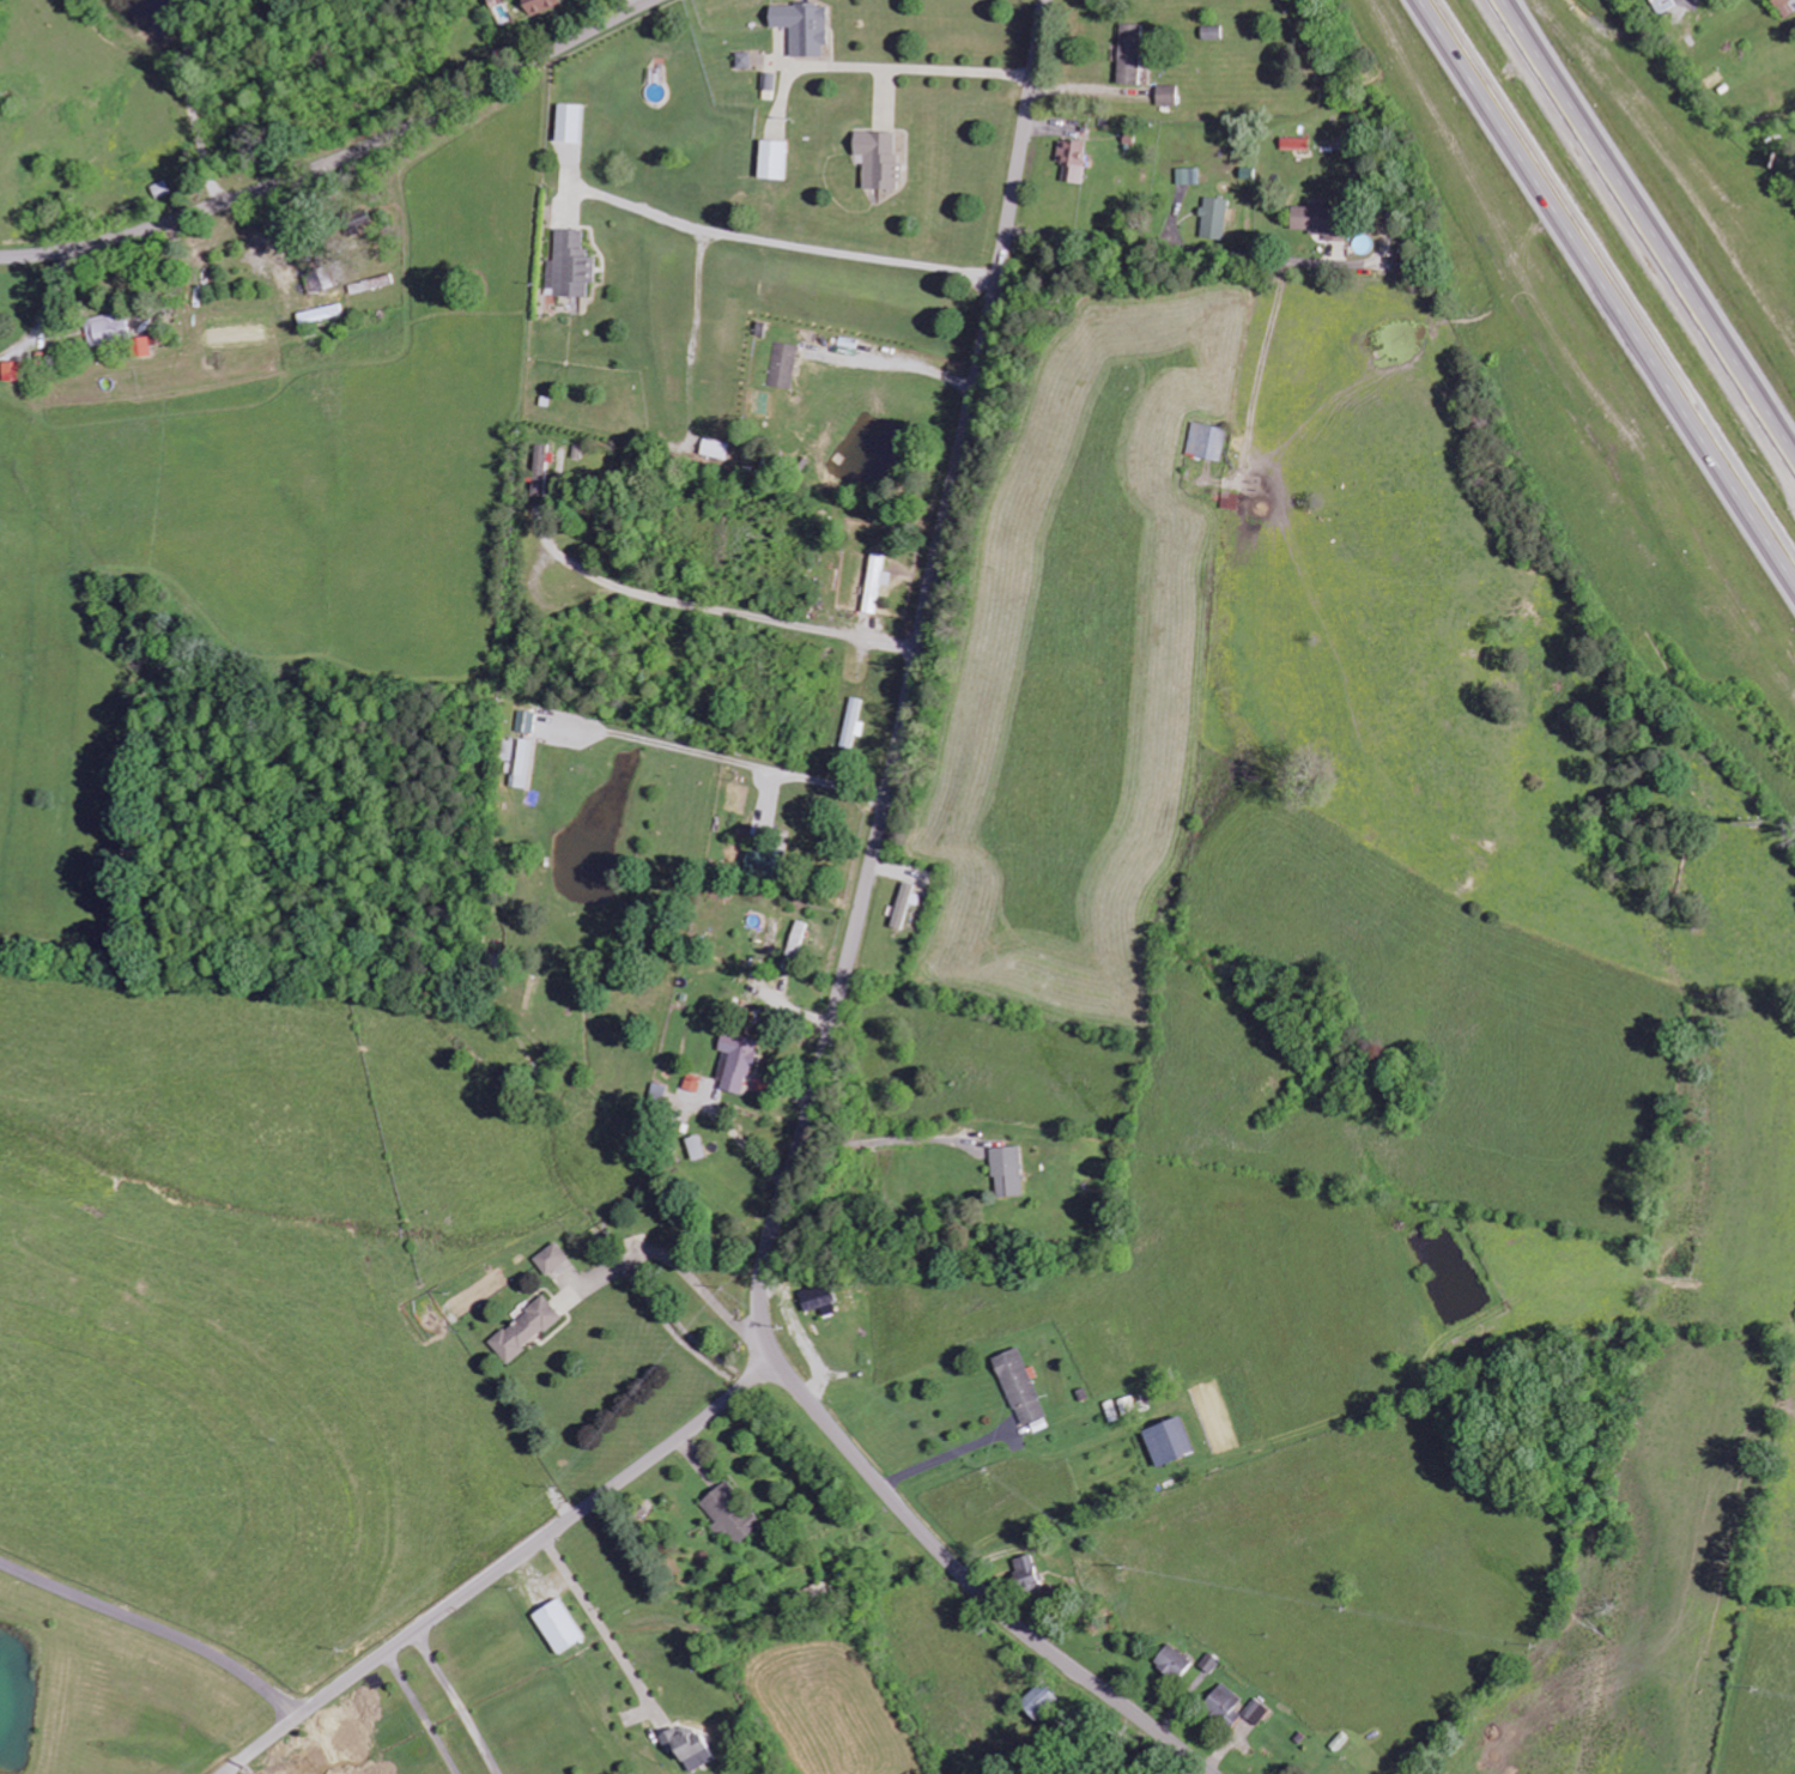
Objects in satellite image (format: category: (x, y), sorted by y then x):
building: (1663, 5)
building: (540, 6)
building: (1787, 7)
building: (802, 26)
building: (1211, 32)
building: (1129, 53)
building: (742, 60)
building: (1166, 95)
building: (568, 123)
building: (1294, 144)
road: (338, 159)
building: (772, 159)
building: (878, 159)
building: (1072, 159)
building: (1187, 176)
building: (163, 189)
building: (1214, 218)
building: (1320, 222)
building: (358, 224)
road: (1643, 234)
building: (569, 266)
building: (313, 281)
road: (1613, 281)
building: (320, 314)
building: (105, 328)
building: (140, 347)
building: (784, 365)
building: (10, 371)
building: (1207, 442)
building: (716, 449)
building: (540, 471)
building: (1230, 501)
building: (877, 582)
building: (524, 722)
building: (854, 725)
building: (517, 761)
building: (762, 864)
building: (906, 904)
building: (798, 940)
road: (848, 975)
building: (736, 1064)
building: (693, 1083)
building: (696, 1148)
building: (1007, 1173)
building: (552, 1259)
building: (817, 1297)
building: (526, 1331)
building: (1019, 1386)
building: (1170, 1441)
building: (730, 1514)
road: (505, 1569)
building: (1026, 1573)
building: (557, 1625)
road: (157, 1628)
road: (604, 1630)
building: (1174, 1661)
building: (1039, 1701)
road: (455, 1703)
building: (1225, 1703)
building: (1257, 1712)
road: (422, 1714)
building: (687, 1748)
road: (228, 1773)

